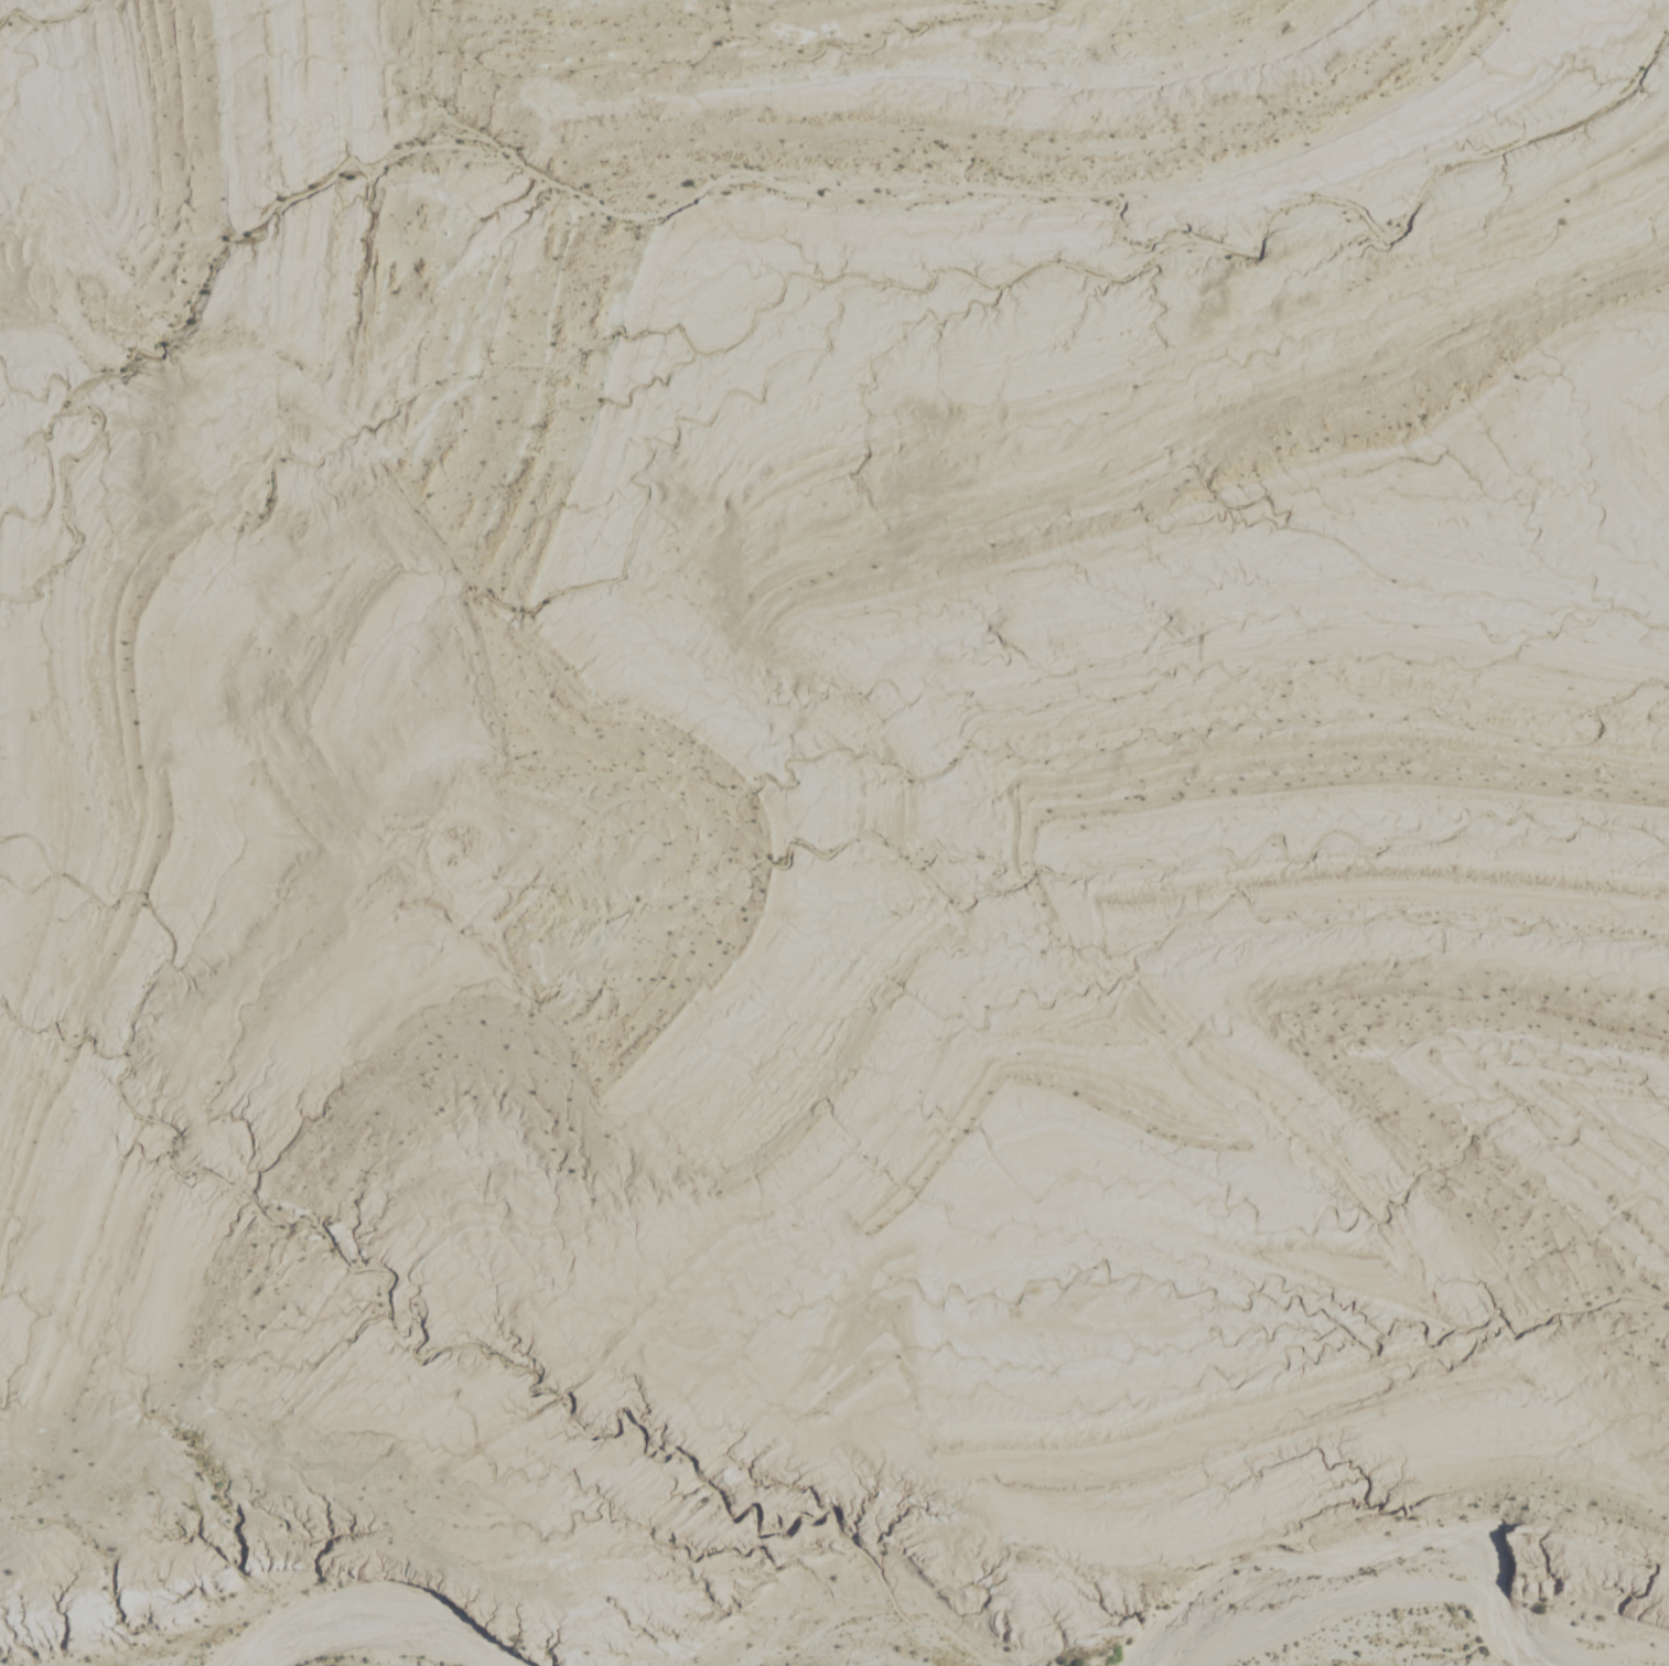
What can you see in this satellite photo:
road: (1372, 1591)
road: (368, 1625)

